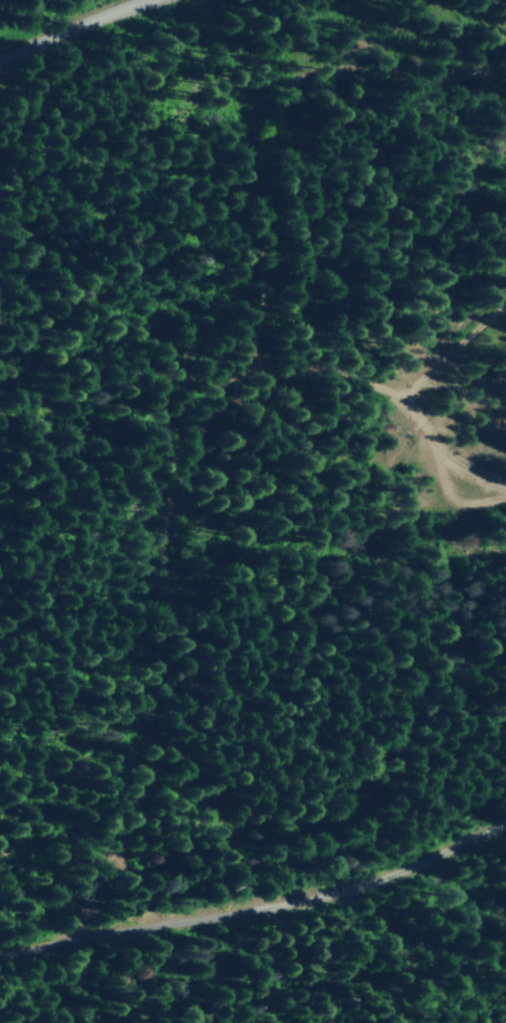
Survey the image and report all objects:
road: (71, 30)
road: (210, 412)
road: (258, 908)

